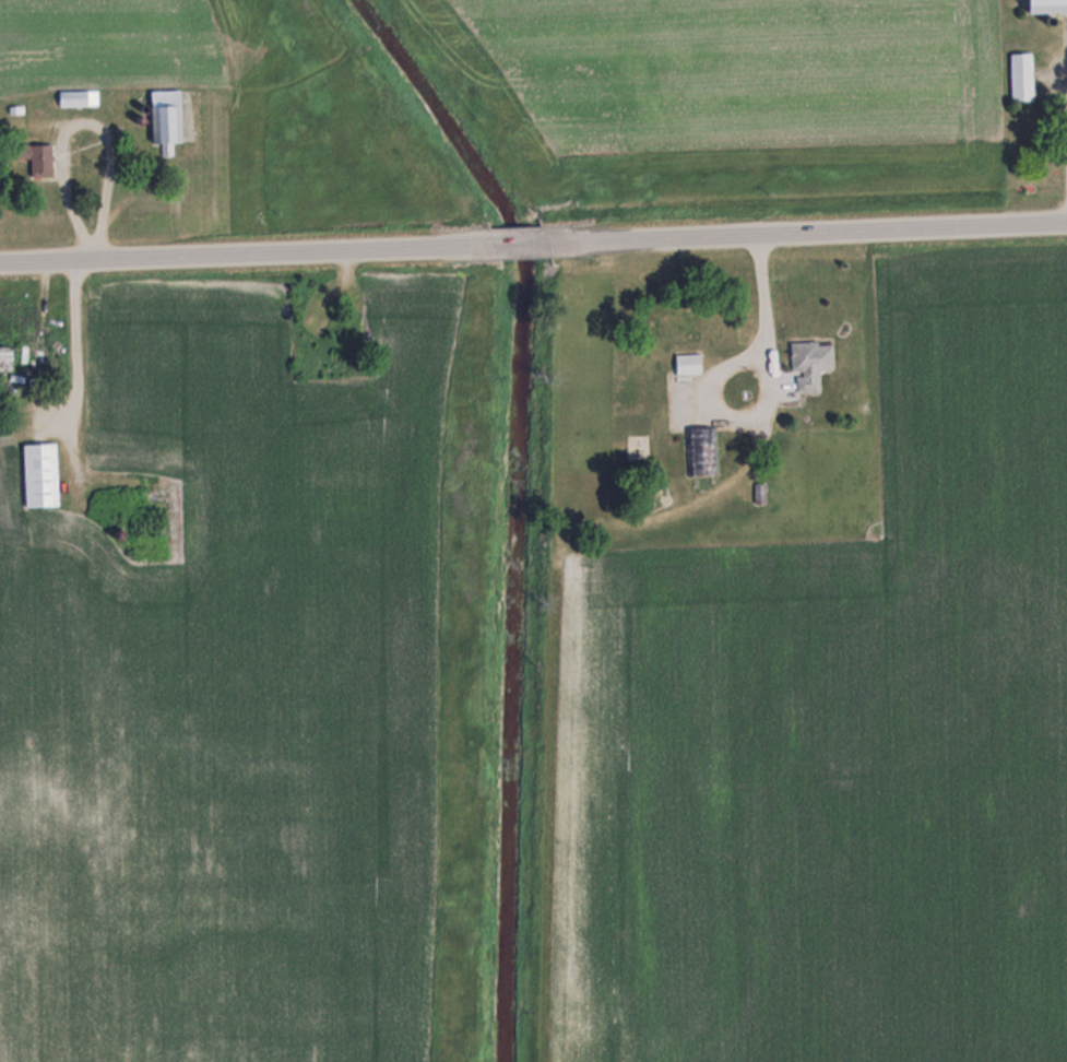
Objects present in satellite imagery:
building: (1045, 5)
building: (1021, 75)
building: (165, 118)
building: (36, 157)
road: (807, 232)
road: (522, 244)
road: (249, 253)
building: (4, 357)
building: (809, 364)
building: (687, 366)
building: (702, 451)
building: (39, 474)

